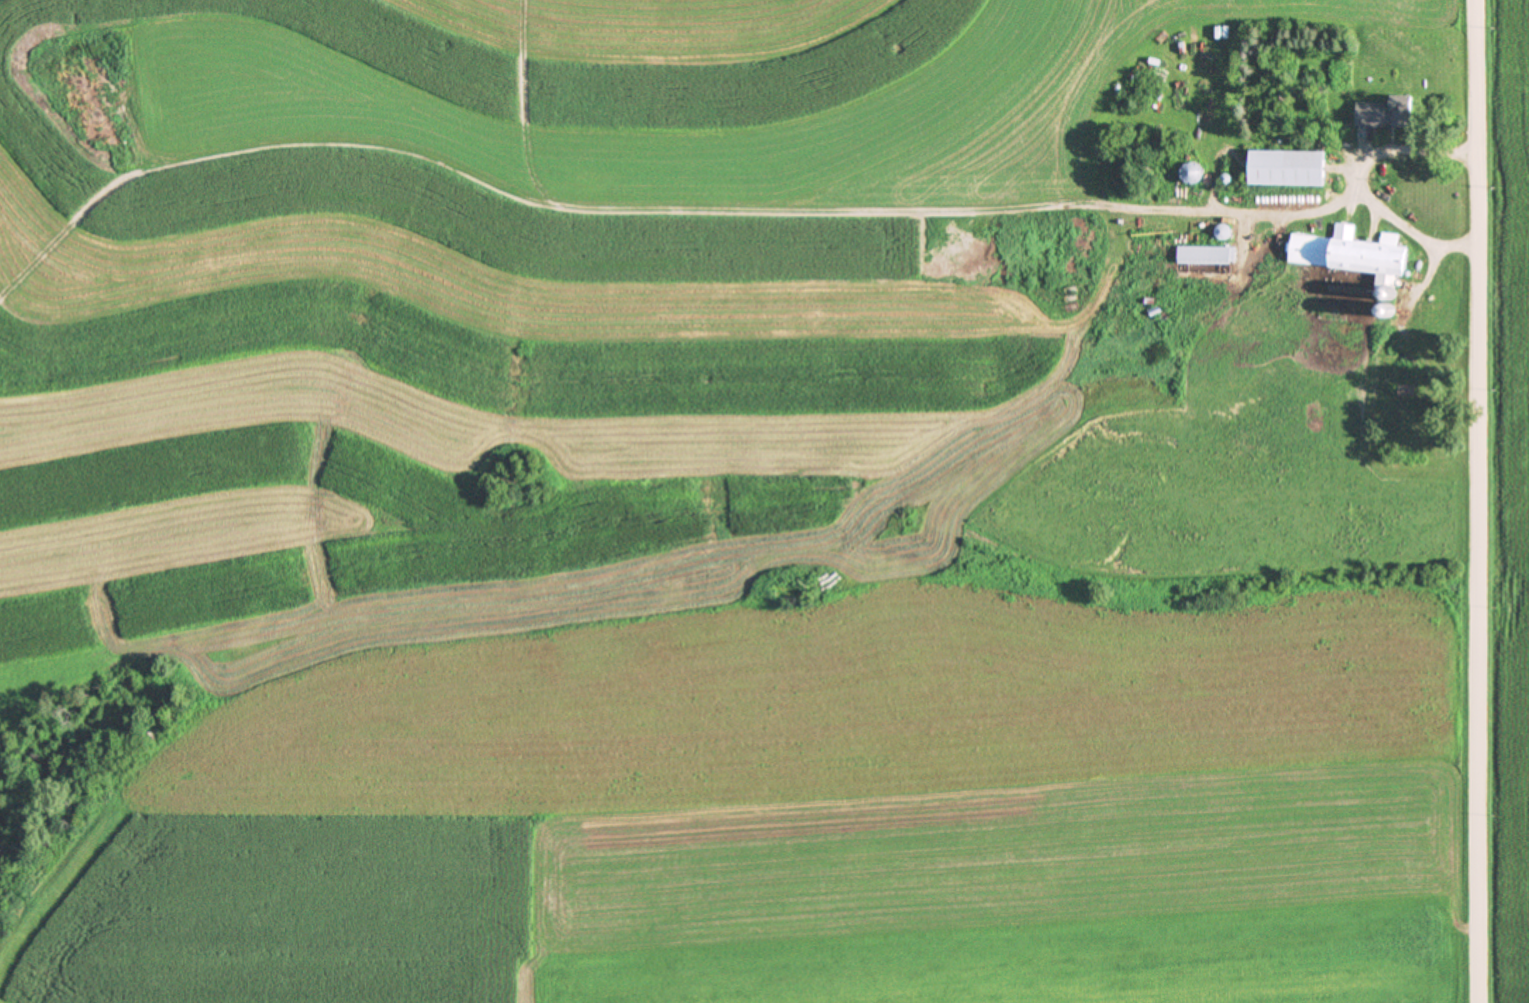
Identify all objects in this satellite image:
building: (1381, 114)
building: (1290, 167)
building: (1195, 173)
road: (1362, 180)
road: (1313, 207)
building: (1206, 254)
building: (1354, 254)
road: (1422, 278)
building: (1407, 390)
road: (1483, 501)

